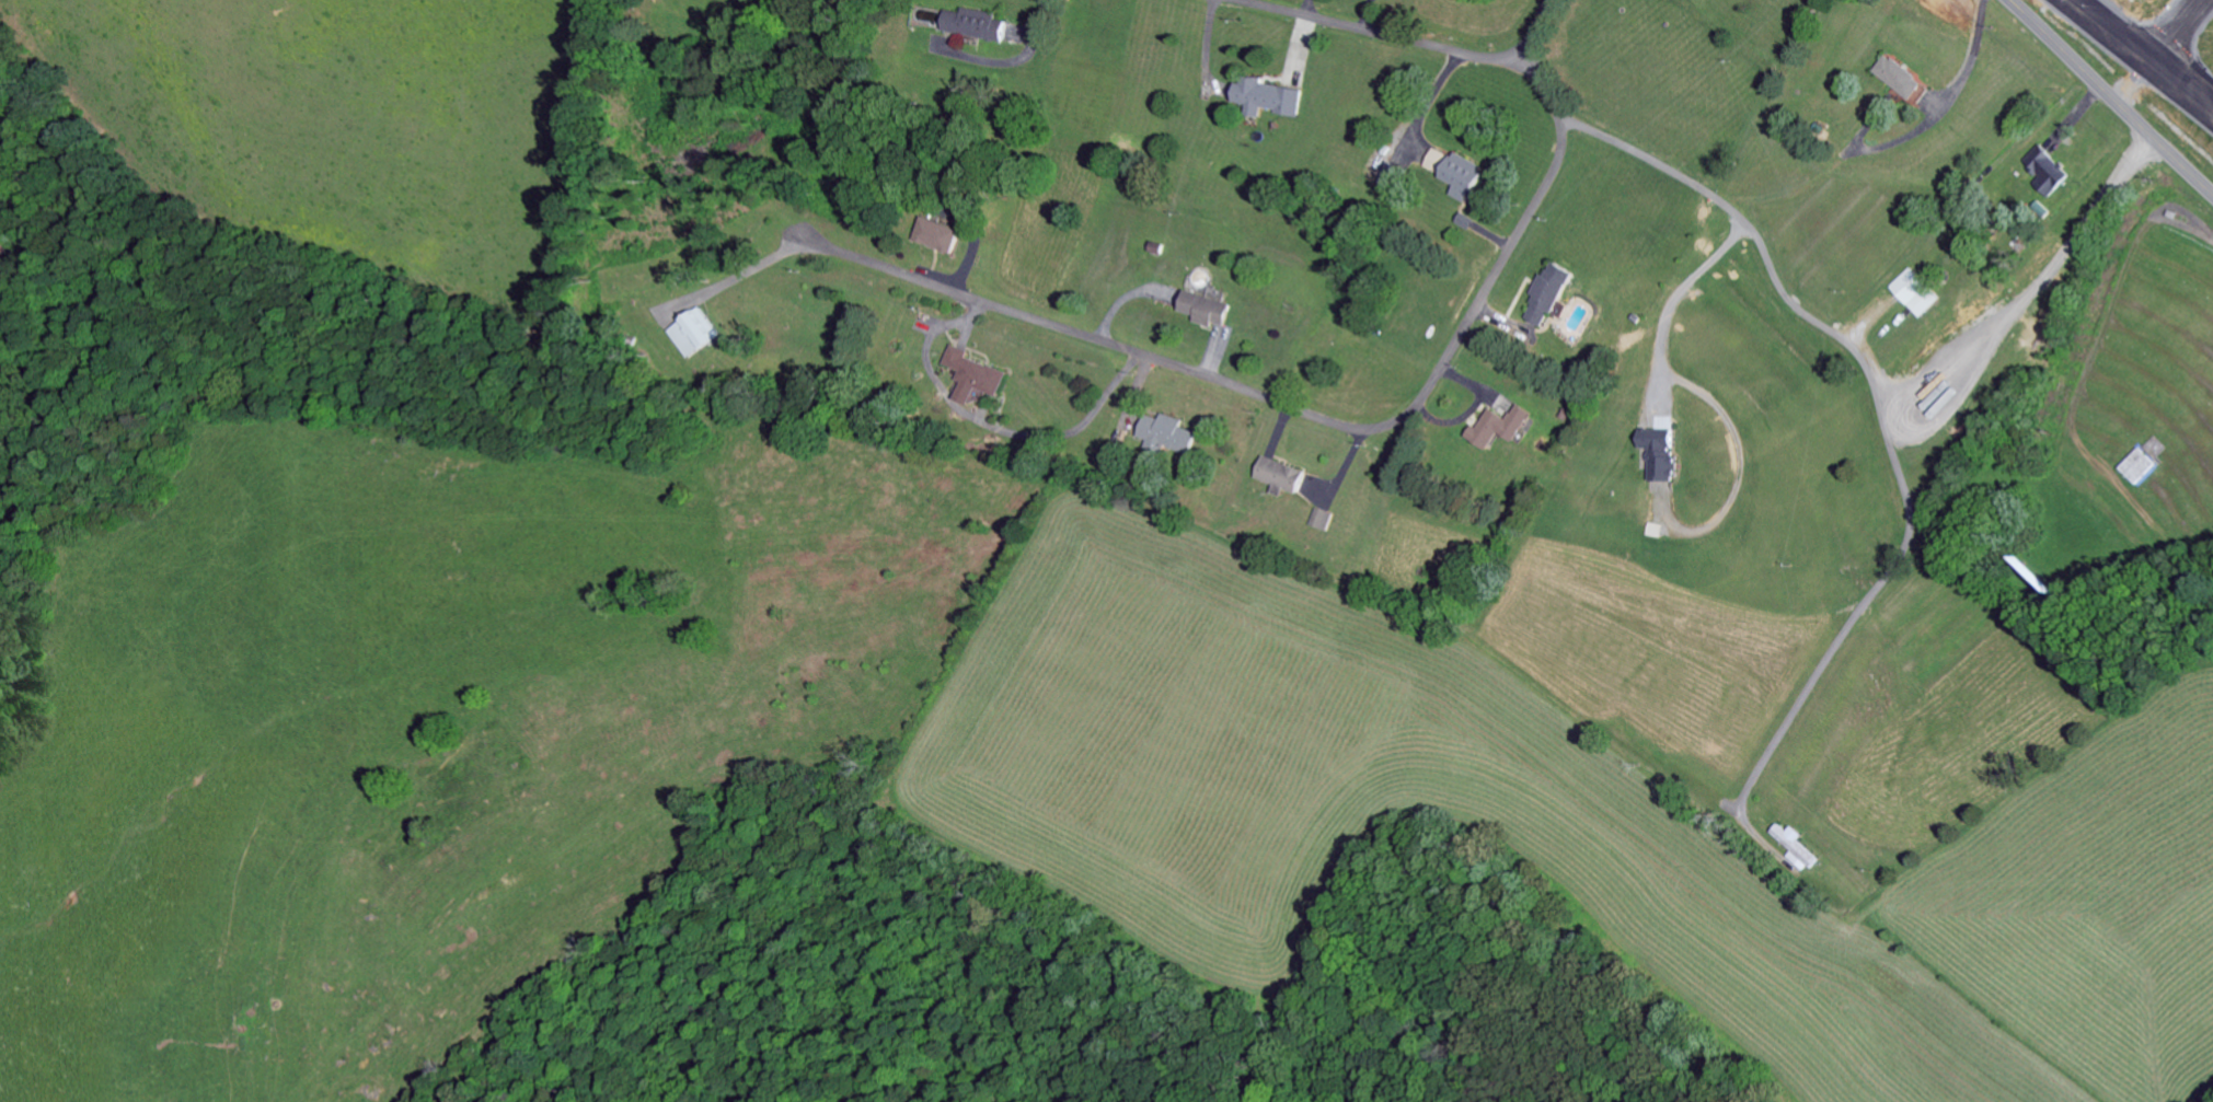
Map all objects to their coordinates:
building: (973, 28)
road: (1374, 36)
road: (2158, 51)
building: (1899, 81)
road: (2109, 98)
building: (1259, 102)
building: (2044, 175)
building: (1452, 176)
building: (1387, 181)
building: (935, 240)
building: (1912, 297)
building: (1546, 299)
building: (1200, 313)
building: (692, 337)
building: (971, 380)
road: (1327, 421)
building: (1498, 431)
building: (1166, 438)
building: (1659, 457)
building: (1279, 480)
building: (1318, 524)
building: (1793, 850)

